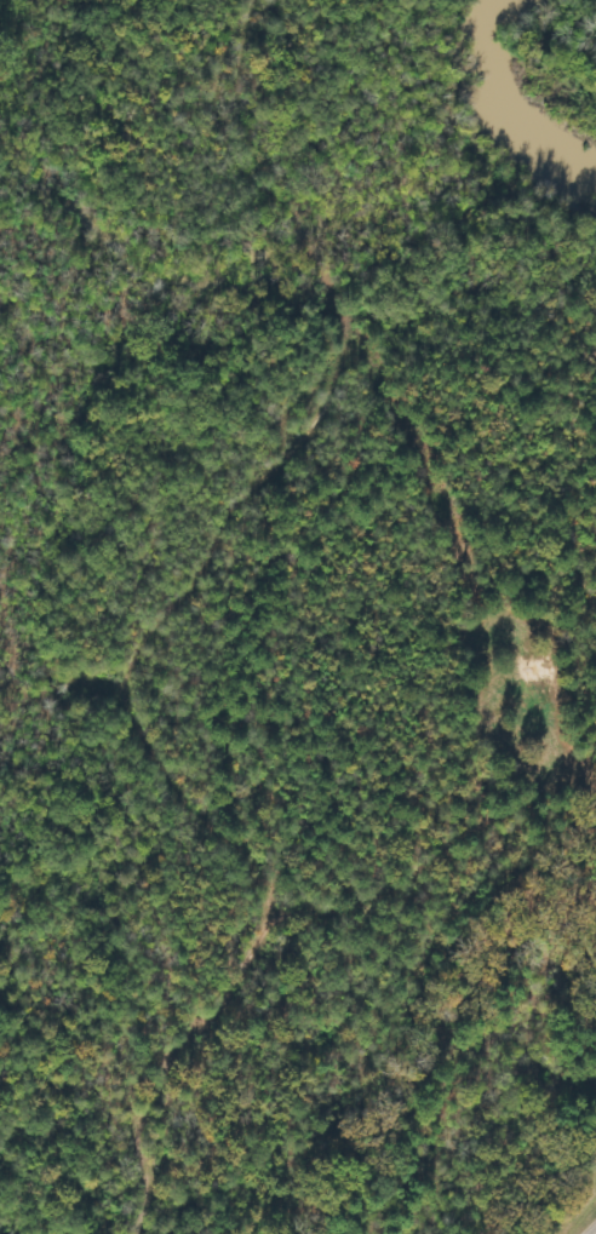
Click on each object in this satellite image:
river: (522, 96)

